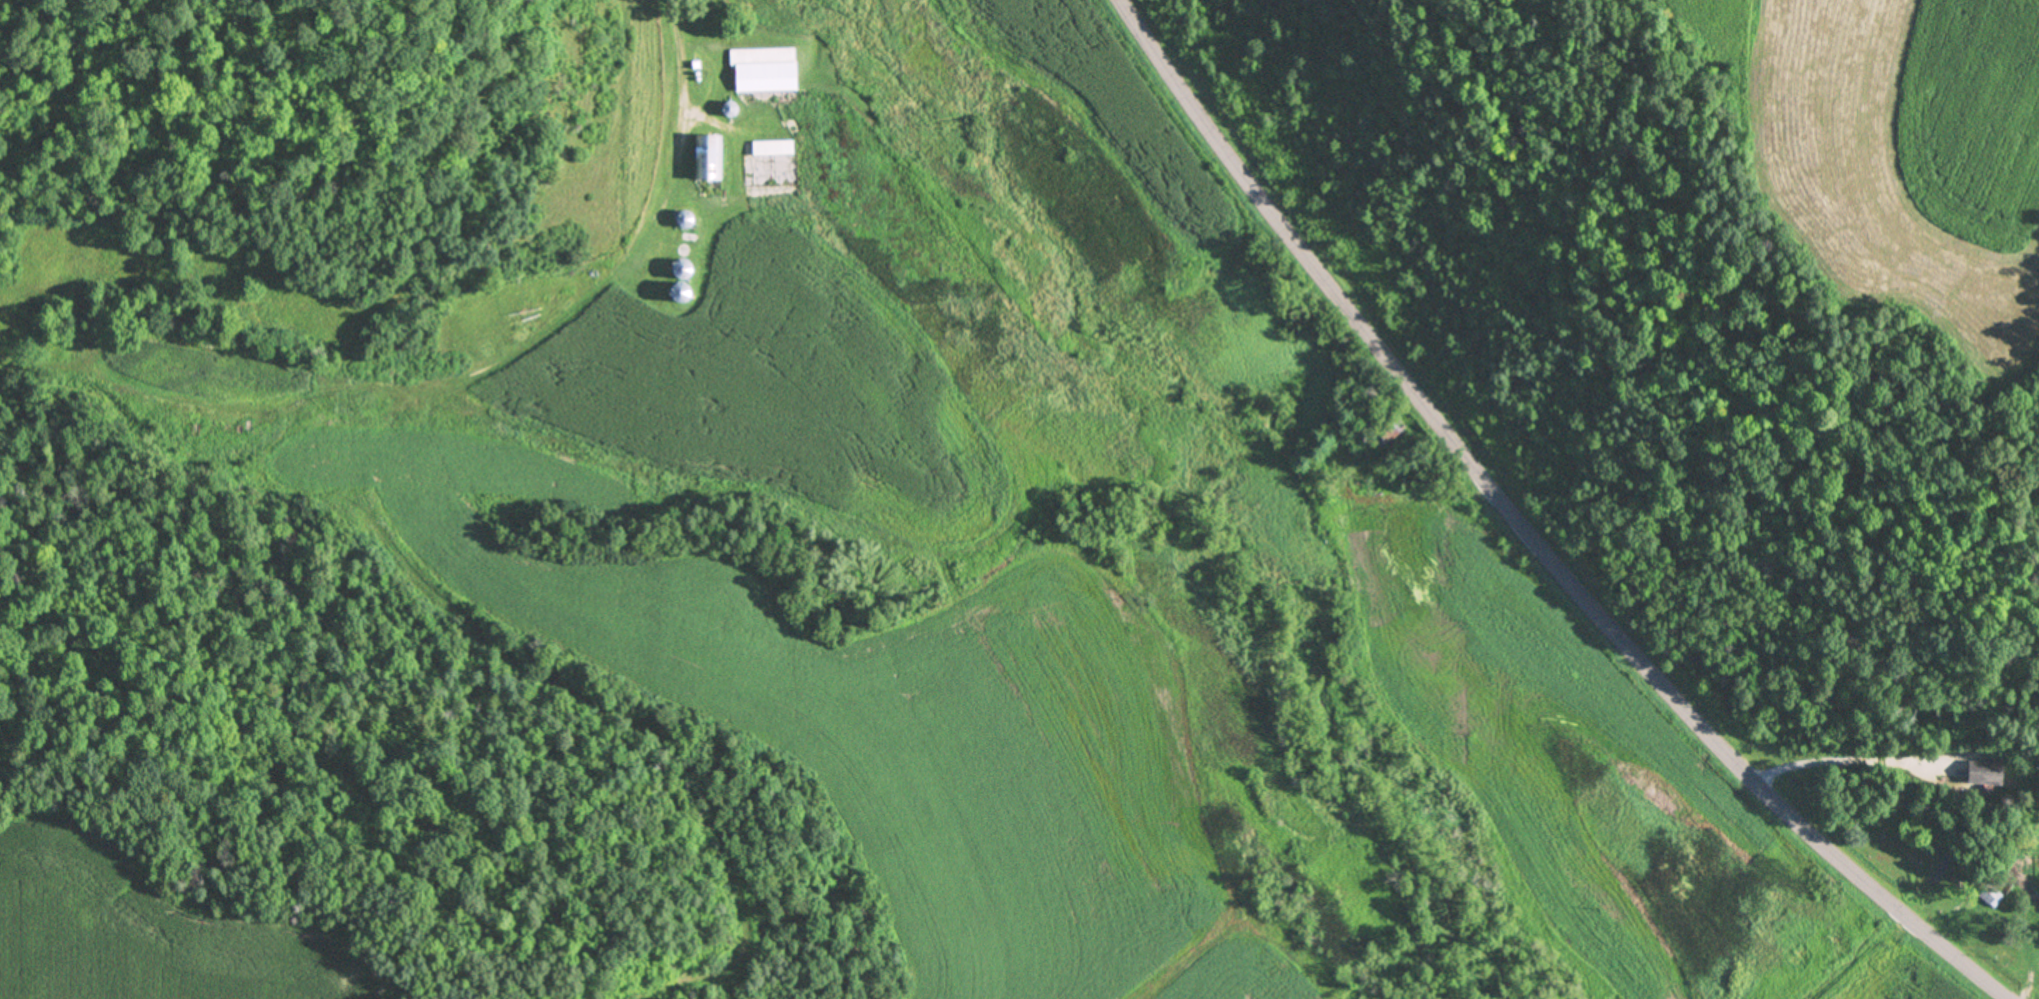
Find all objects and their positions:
building: (764, 56)
building: (772, 148)
building: (714, 159)
road: (1528, 531)
road: (1850, 759)
building: (1978, 771)
building: (1988, 895)

